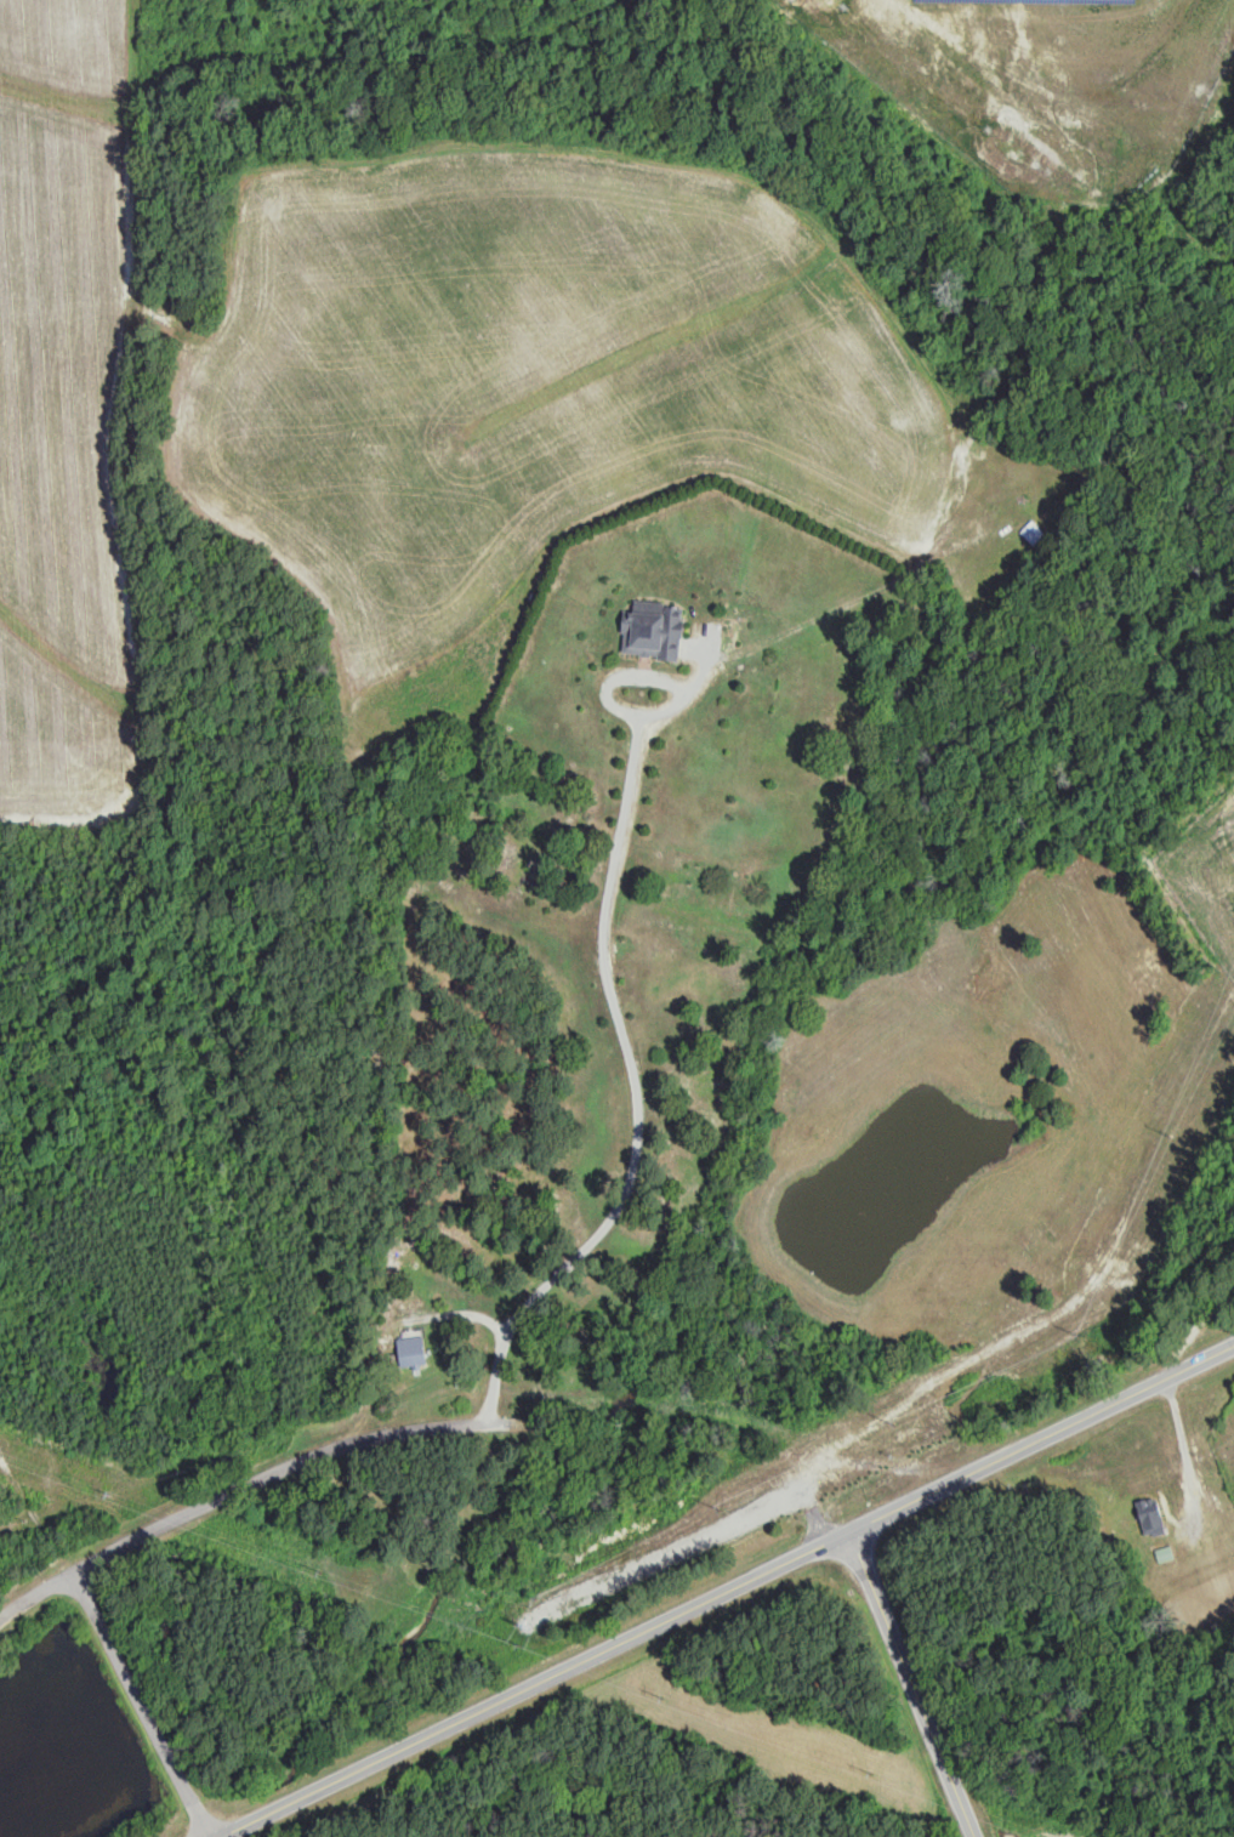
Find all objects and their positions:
building: (1034, 531)
building: (654, 630)
road: (631, 1037)
building: (414, 1350)
road: (1185, 1450)
road: (273, 1474)
building: (1153, 1517)
road: (727, 1588)
road: (909, 1683)
road: (142, 1705)

